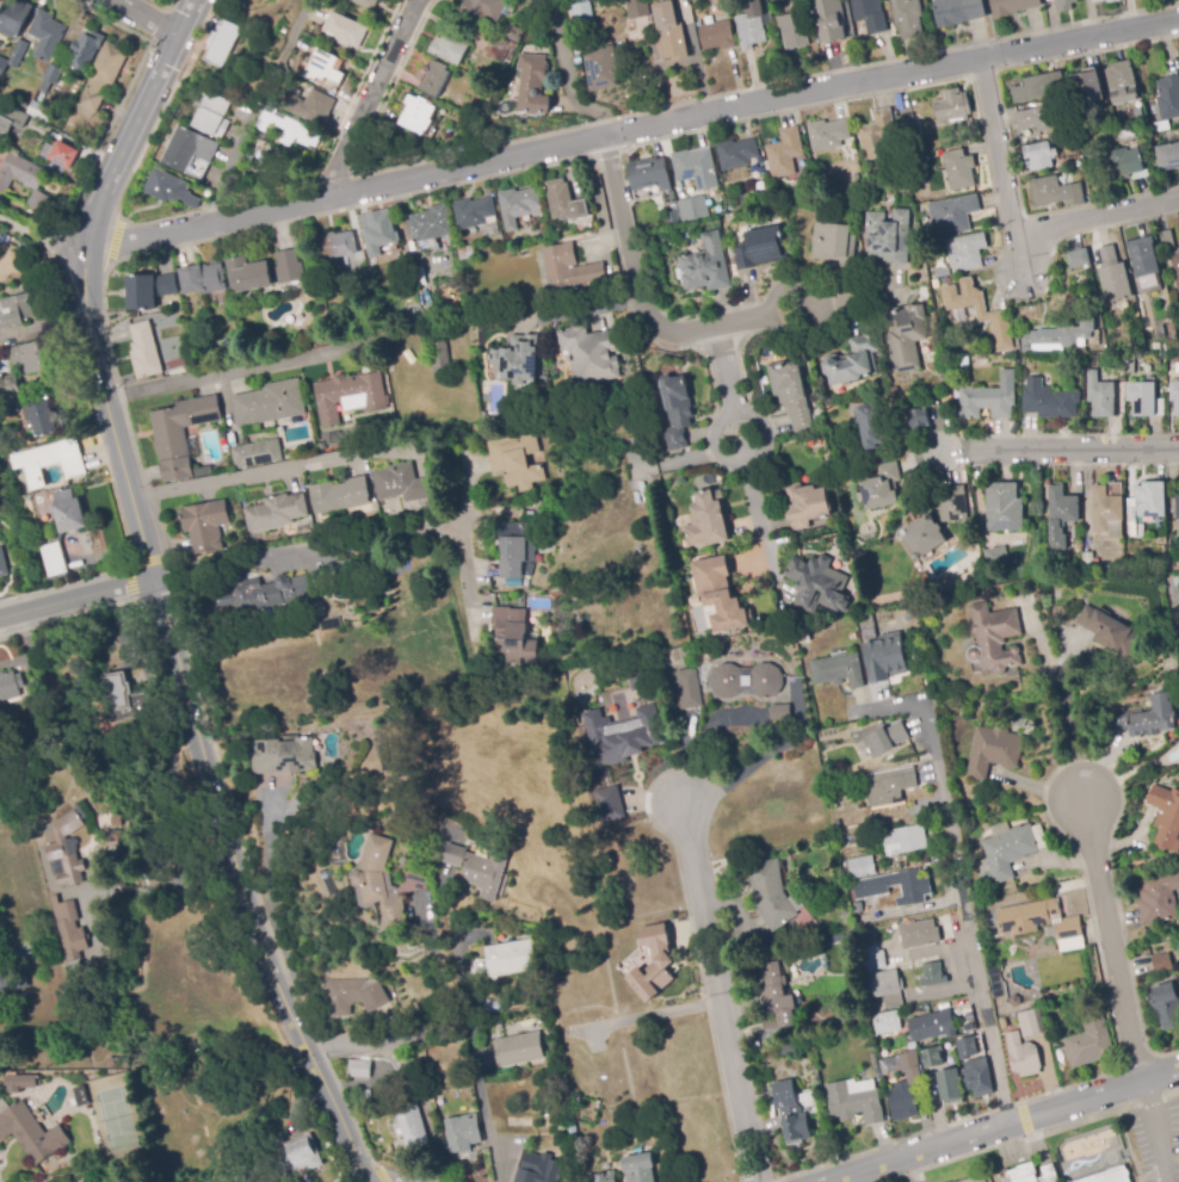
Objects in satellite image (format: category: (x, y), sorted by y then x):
building: (1043, 0)
building: (1097, 0)
building: (1111, 0)
building: (533, 2)
building: (366, 4)
building: (1064, 5)
road: (411, 6)
road: (418, 6)
building: (1012, 6)
building: (637, 7)
building: (490, 8)
building: (576, 10)
building: (957, 12)
building: (866, 13)
road: (144, 17)
building: (14, 18)
building: (906, 18)
building: (829, 19)
road: (110, 20)
building: (794, 30)
building: (345, 31)
building: (669, 31)
building: (749, 31)
building: (47, 36)
building: (717, 36)
building: (222, 44)
building: (450, 44)
building: (505, 44)
building: (86, 51)
building: (18, 54)
building: (7, 56)
building: (2, 64)
building: (325, 67)
building: (601, 70)
building: (53, 74)
road: (566, 74)
building: (103, 79)
building: (433, 79)
building: (1124, 82)
building: (533, 83)
building: (282, 85)
building: (45, 86)
building: (1039, 87)
building: (1086, 88)
building: (1168, 98)
road: (365, 105)
road: (163, 106)
building: (309, 106)
building: (952, 106)
road: (255, 110)
road: (790, 110)
building: (39, 111)
building: (1138, 111)
building: (212, 113)
building: (418, 115)
building: (1036, 119)
building: (10, 120)
building: (1161, 124)
building: (907, 125)
building: (289, 129)
road: (630, 131)
building: (1124, 134)
building: (877, 135)
building: (447, 136)
building: (833, 138)
building: (915, 147)
building: (190, 149)
building: (785, 153)
road: (607, 154)
building: (64, 155)
building: (740, 155)
building: (1039, 155)
building: (1167, 156)
building: (1125, 163)
building: (696, 168)
building: (802, 168)
building: (959, 169)
road: (1001, 171)
building: (648, 174)
building: (865, 177)
building: (857, 178)
building: (25, 181)
building: (171, 190)
building: (1056, 192)
building: (786, 194)
building: (564, 202)
building: (844, 203)
building: (518, 205)
building: (692, 208)
building: (474, 212)
building: (952, 215)
road: (1097, 219)
building: (365, 221)
building: (432, 223)
building: (381, 233)
building: (889, 236)
road: (41, 239)
road: (113, 239)
road: (203, 240)
building: (1166, 241)
building: (833, 243)
building: (337, 246)
building: (760, 248)
building: (465, 253)
building: (965, 253)
building: (524, 254)
building: (1143, 256)
building: (1079, 258)
building: (705, 266)
building: (289, 267)
building: (570, 270)
building: (1175, 270)
building: (247, 274)
building: (203, 279)
building: (1115, 283)
building: (167, 285)
building: (141, 293)
road: (643, 304)
building: (18, 309)
road: (586, 309)
building: (980, 311)
building: (428, 314)
building: (958, 317)
building: (905, 336)
building: (1058, 336)
building: (936, 345)
building: (144, 351)
building: (591, 354)
building: (32, 358)
building: (440, 358)
building: (518, 359)
building: (852, 361)
building: (1129, 363)
building: (963, 364)
building: (179, 365)
road: (235, 372)
building: (791, 390)
building: (10, 396)
building: (348, 396)
building: (1100, 396)
building: (1174, 396)
building: (989, 398)
building: (1142, 398)
building: (1048, 401)
building: (268, 403)
building: (678, 408)
building: (1159, 408)
building: (915, 415)
building: (43, 419)
building: (347, 422)
building: (874, 425)
building: (181, 433)
road: (742, 435)
building: (908, 447)
road: (1073, 450)
building: (257, 453)
building: (517, 460)
building: (50, 463)
road: (272, 468)
building: (401, 484)
building: (882, 487)
building: (340, 495)
building: (952, 503)
building: (808, 507)
building: (1004, 507)
building: (1144, 507)
building: (1177, 507)
building: (1105, 508)
building: (276, 512)
building: (705, 516)
building: (1061, 516)
building: (205, 525)
building: (62, 532)
building: (924, 537)
road: (340, 542)
building: (1159, 544)
building: (512, 550)
building: (995, 556)
building: (1086, 562)
building: (2, 563)
road: (128, 564)
building: (529, 569)
building: (1020, 573)
building: (347, 574)
building: (993, 577)
road: (62, 584)
building: (817, 586)
road: (158, 592)
building: (717, 593)
building: (263, 594)
road: (76, 598)
road: (1177, 607)
road: (67, 618)
building: (868, 626)
building: (1110, 632)
building: (803, 635)
building: (514, 637)
building: (994, 638)
road: (27, 645)
building: (884, 658)
building: (838, 670)
building: (747, 681)
building: (10, 686)
building: (684, 689)
building: (125, 703)
building: (780, 712)
road: (1062, 712)
building: (1147, 718)
building: (1016, 722)
building: (618, 729)
building: (885, 739)
building: (992, 751)
building: (284, 756)
building: (924, 773)
building: (889, 786)
building: (607, 803)
road: (173, 811)
building: (1166, 816)
building: (116, 822)
building: (72, 823)
building: (115, 835)
building: (1041, 836)
building: (905, 840)
building: (850, 842)
building: (1007, 853)
building: (67, 865)
building: (862, 867)
building: (479, 870)
building: (811, 873)
building: (384, 884)
building: (872, 886)
building: (770, 895)
building: (1158, 898)
building: (811, 910)
building: (1027, 916)
road: (968, 917)
building: (69, 929)
building: (1069, 929)
building: (919, 934)
building: (866, 940)
road: (1107, 940)
building: (764, 957)
building: (872, 957)
building: (511, 958)
building: (662, 963)
building: (1162, 964)
building: (933, 976)
building: (11, 985)
building: (884, 986)
road: (720, 992)
building: (354, 995)
building: (774, 997)
building: (1014, 1001)
building: (1167, 1005)
building: (885, 1022)
building: (1002, 1022)
building: (1030, 1022)
building: (932, 1026)
road: (416, 1033)
building: (969, 1040)
building: (1090, 1042)
building: (947, 1044)
building: (519, 1050)
road: (1167, 1053)
building: (927, 1054)
building: (1021, 1054)
road: (1137, 1062)
building: (116, 1063)
building: (359, 1069)
building: (815, 1072)
building: (877, 1073)
building: (977, 1078)
building: (553, 1082)
building: (20, 1083)
building: (945, 1084)
building: (903, 1085)
road: (1069, 1085)
road: (1171, 1090)
building: (366, 1096)
road: (1149, 1097)
building: (853, 1103)
building: (790, 1113)
road: (1024, 1119)
building: (527, 1122)
building: (555, 1125)
building: (413, 1126)
building: (572, 1126)
road: (1005, 1126)
road: (1154, 1132)
building: (32, 1133)
building: (464, 1133)
road: (490, 1133)
road: (1007, 1143)
road: (1125, 1145)
building: (302, 1153)
building: (641, 1168)
building: (545, 1171)
building: (1023, 1172)
building: (1106, 1176)
building: (601, 1177)
road: (370, 1180)

